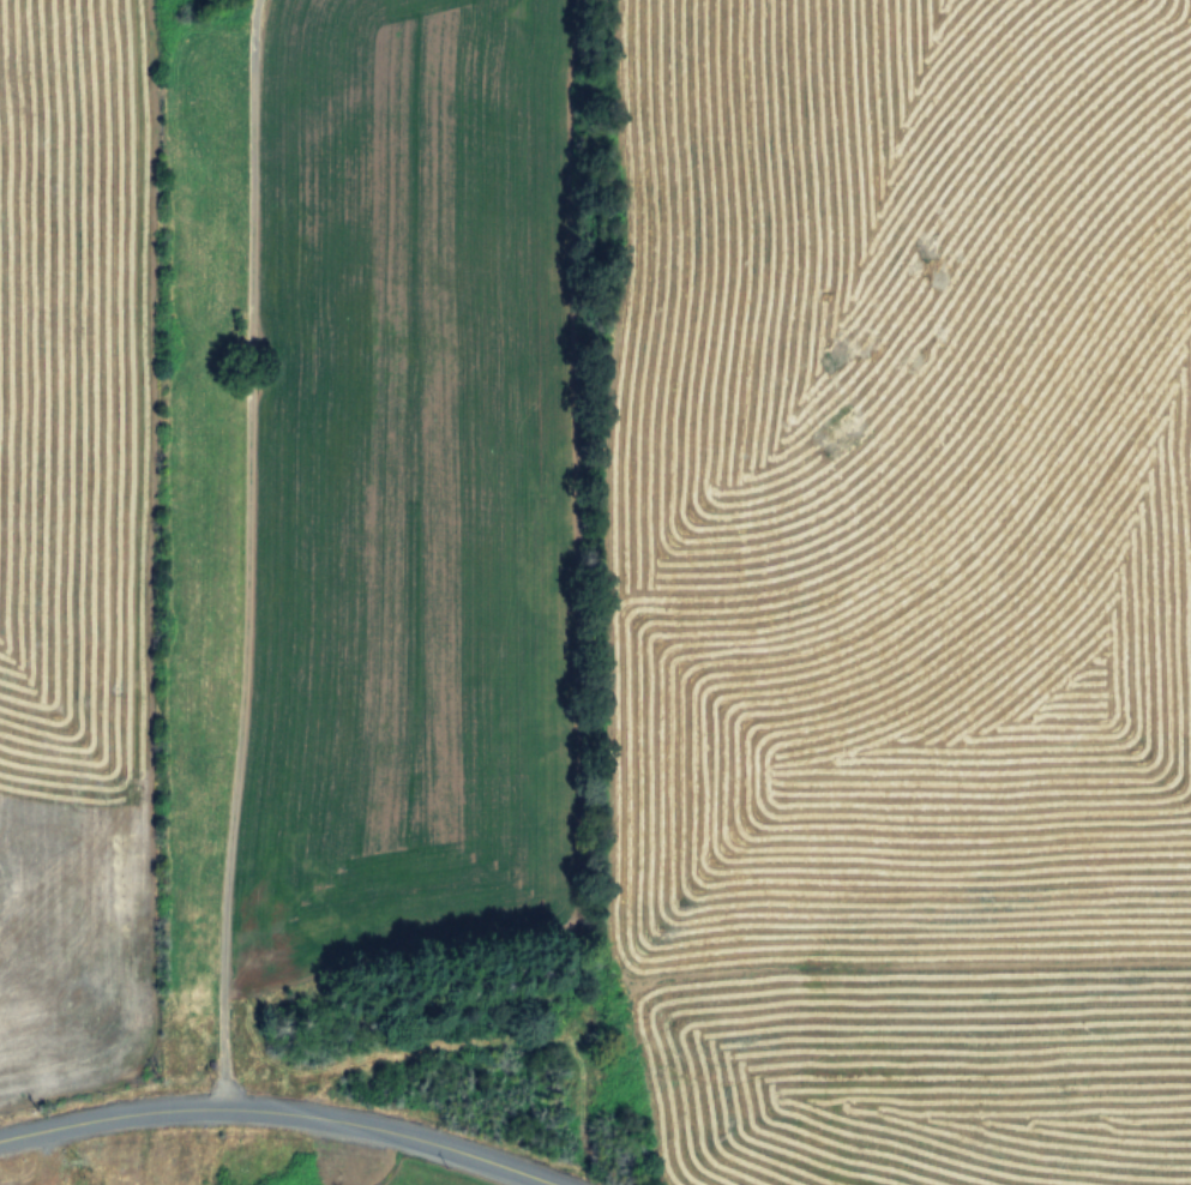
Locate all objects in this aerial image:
road: (246, 560)
crop: (609, 567)
road: (270, 1114)

